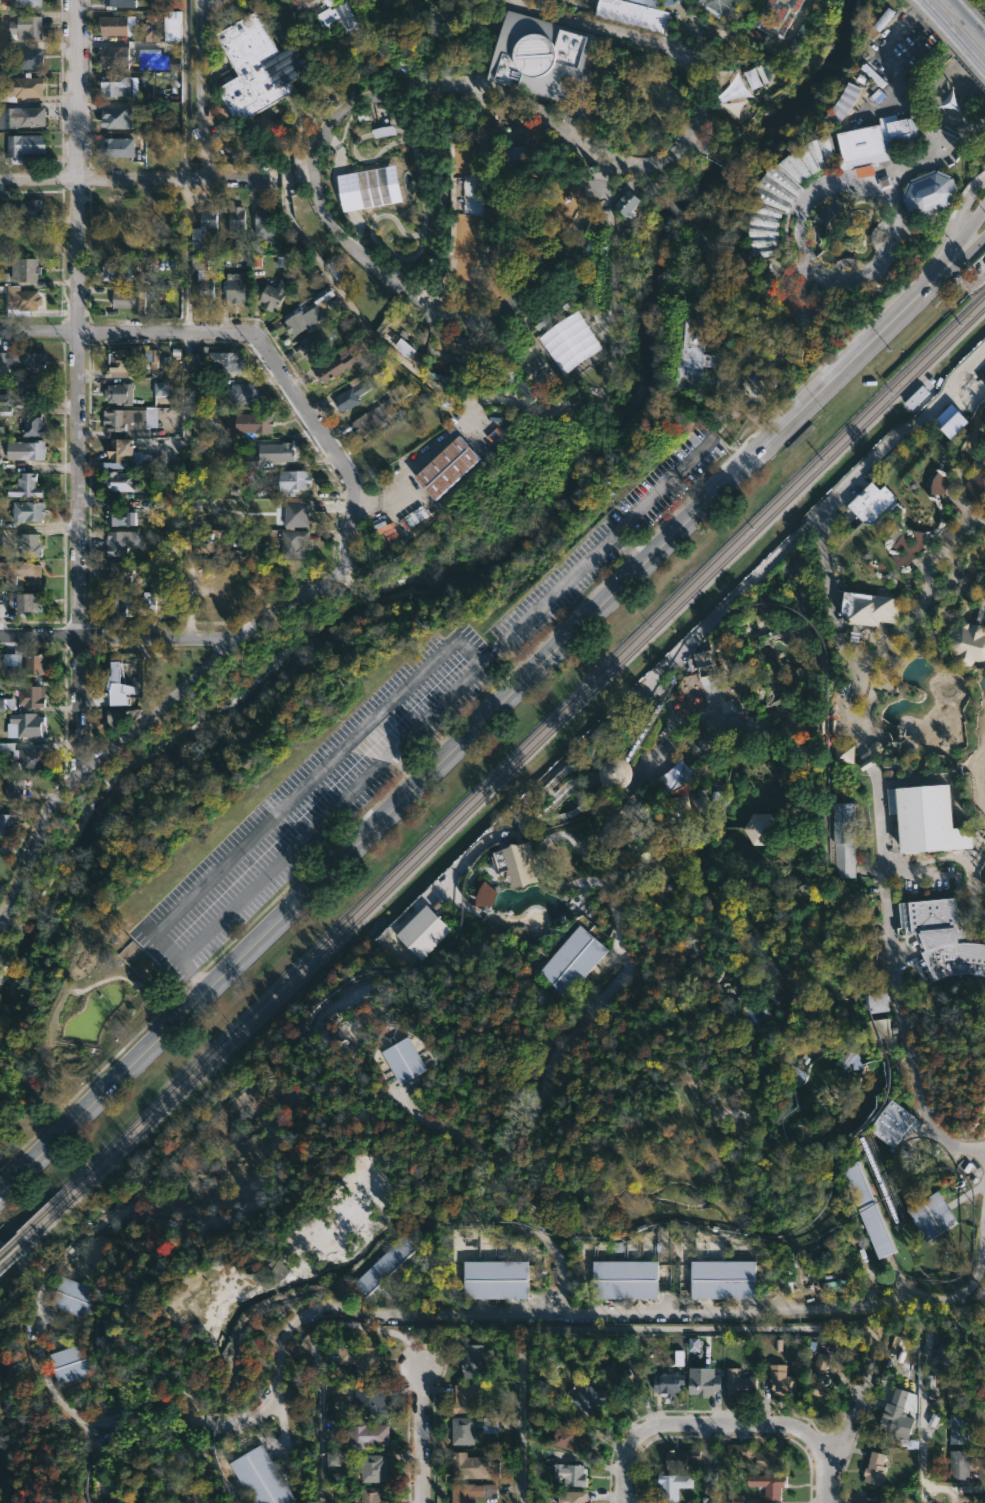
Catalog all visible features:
building: (328, 2)
building: (545, 2)
building: (26, 3)
building: (117, 3)
building: (719, 6)
building: (635, 13)
building: (777, 17)
road: (973, 17)
road: (967, 18)
building: (330, 21)
building: (114, 26)
building: (433, 26)
building: (24, 27)
road: (793, 28)
building: (161, 30)
road: (955, 31)
building: (279, 32)
parking lot: (909, 34)
building: (755, 35)
road: (916, 43)
road: (883, 46)
building: (476, 52)
road: (682, 52)
building: (114, 54)
building: (543, 57)
building: (28, 58)
building: (253, 67)
building: (756, 77)
road: (926, 85)
building: (116, 86)
road: (184, 88)
road: (199, 88)
building: (22, 89)
building: (842, 105)
building: (20, 117)
building: (114, 119)
building: (384, 131)
road: (701, 140)
building: (873, 141)
building: (22, 147)
building: (115, 148)
building: (511, 157)
road: (736, 161)
road: (911, 167)
road: (104, 178)
road: (247, 178)
road: (647, 178)
building: (885, 182)
building: (928, 192)
building: (782, 194)
building: (471, 195)
building: (633, 201)
road: (799, 202)
building: (27, 209)
road: (961, 209)
building: (116, 210)
road: (679, 212)
building: (826, 212)
road: (323, 213)
building: (1, 214)
building: (235, 220)
building: (205, 226)
building: (263, 227)
road: (700, 235)
road: (958, 244)
building: (533, 254)
road: (958, 264)
road: (779, 265)
building: (23, 268)
building: (114, 270)
road: (828, 274)
road: (719, 275)
building: (203, 277)
road: (966, 282)
building: (232, 287)
road: (341, 293)
building: (273, 294)
building: (21, 298)
building: (126, 299)
road: (883, 303)
building: (296, 323)
road: (129, 333)
building: (401, 339)
building: (313, 343)
building: (586, 344)
road: (725, 351)
building: (692, 354)
building: (152, 358)
road: (746, 358)
building: (23, 360)
building: (224, 360)
building: (117, 363)
building: (334, 363)
building: (541, 371)
building: (31, 383)
road: (80, 388)
building: (160, 389)
building: (356, 390)
building: (401, 391)
building: (121, 392)
building: (242, 392)
building: (916, 397)
building: (4, 402)
road: (749, 411)
building: (367, 421)
building: (951, 421)
building: (123, 422)
building: (259, 422)
building: (34, 424)
road: (904, 428)
building: (495, 436)
building: (381, 445)
road: (435, 446)
building: (30, 449)
building: (120, 451)
building: (281, 451)
building: (250, 460)
building: (0, 461)
building: (447, 466)
road: (972, 466)
road: (950, 478)
building: (291, 479)
building: (118, 480)
building: (939, 485)
building: (24, 486)
building: (975, 490)
building: (867, 508)
building: (27, 511)
building: (294, 513)
building: (120, 516)
road: (975, 518)
parking lot: (607, 539)
building: (1, 540)
building: (122, 540)
road: (604, 540)
building: (292, 542)
building: (31, 544)
road: (625, 550)
building: (907, 550)
road: (827, 570)
building: (21, 572)
building: (119, 572)
building: (959, 577)
building: (953, 589)
road: (926, 591)
building: (27, 600)
building: (150, 600)
building: (115, 604)
building: (868, 608)
road: (981, 611)
road: (924, 627)
road: (458, 634)
road: (231, 635)
road: (99, 640)
building: (967, 644)
road: (893, 645)
road: (937, 647)
road: (489, 653)
road: (814, 655)
road: (884, 656)
building: (708, 657)
building: (34, 664)
building: (9, 665)
road: (883, 673)
building: (120, 686)
road: (701, 689)
building: (31, 696)
road: (852, 696)
building: (7, 704)
building: (121, 716)
road: (607, 717)
building: (24, 725)
railway: (643, 729)
road: (464, 736)
road: (884, 739)
building: (874, 748)
building: (843, 754)
building: (33, 759)
road: (405, 764)
railway: (502, 765)
building: (614, 773)
railway: (616, 775)
building: (889, 775)
railway: (503, 776)
building: (16, 787)
parking lot: (313, 801)
railway: (591, 808)
building: (701, 811)
building: (635, 813)
building: (926, 819)
building: (8, 824)
road: (602, 828)
building: (760, 829)
building: (842, 840)
road: (588, 857)
building: (516, 862)
road: (535, 869)
road: (470, 875)
road: (507, 876)
road: (497, 878)
road: (560, 887)
road: (605, 889)
building: (484, 895)
building: (423, 932)
building: (940, 940)
building: (572, 961)
building: (140, 963)
road: (190, 975)
road: (893, 976)
building: (874, 1002)
building: (877, 1027)
building: (846, 1057)
building: (404, 1060)
building: (796, 1077)
railway: (235, 1092)
road: (529, 1116)
road: (437, 1121)
building: (892, 1124)
railway: (898, 1190)
railway: (825, 1201)
building: (868, 1210)
building: (931, 1217)
railway: (902, 1236)
railway: (9, 1247)
building: (98, 1249)
railway: (10, 1257)
building: (385, 1264)
railway: (902, 1272)
building: (273, 1273)
building: (625, 1279)
building: (723, 1279)
railway: (929, 1279)
building: (495, 1280)
building: (71, 1299)
road: (399, 1317)
road: (613, 1328)
building: (694, 1344)
building: (942, 1355)
building: (354, 1356)
building: (468, 1356)
building: (369, 1362)
building: (69, 1363)
building: (617, 1374)
building: (820, 1375)
building: (780, 1378)
building: (667, 1382)
building: (702, 1382)
building: (738, 1382)
building: (956, 1391)
building: (461, 1398)
building: (586, 1398)
building: (367, 1400)
building: (890, 1417)
road: (849, 1425)
road: (701, 1426)
building: (467, 1427)
building: (955, 1427)
road: (419, 1432)
road: (923, 1432)
building: (361, 1433)
building: (567, 1436)
building: (759, 1456)
building: (680, 1459)
building: (334, 1460)
building: (959, 1464)
road: (723, 1465)
building: (469, 1466)
building: (370, 1467)
building: (874, 1468)
building: (569, 1473)
building: (260, 1477)
building: (671, 1484)
building: (768, 1484)
road: (946, 1488)
building: (470, 1491)
building: (368, 1495)
building: (571, 1496)
building: (864, 1502)

